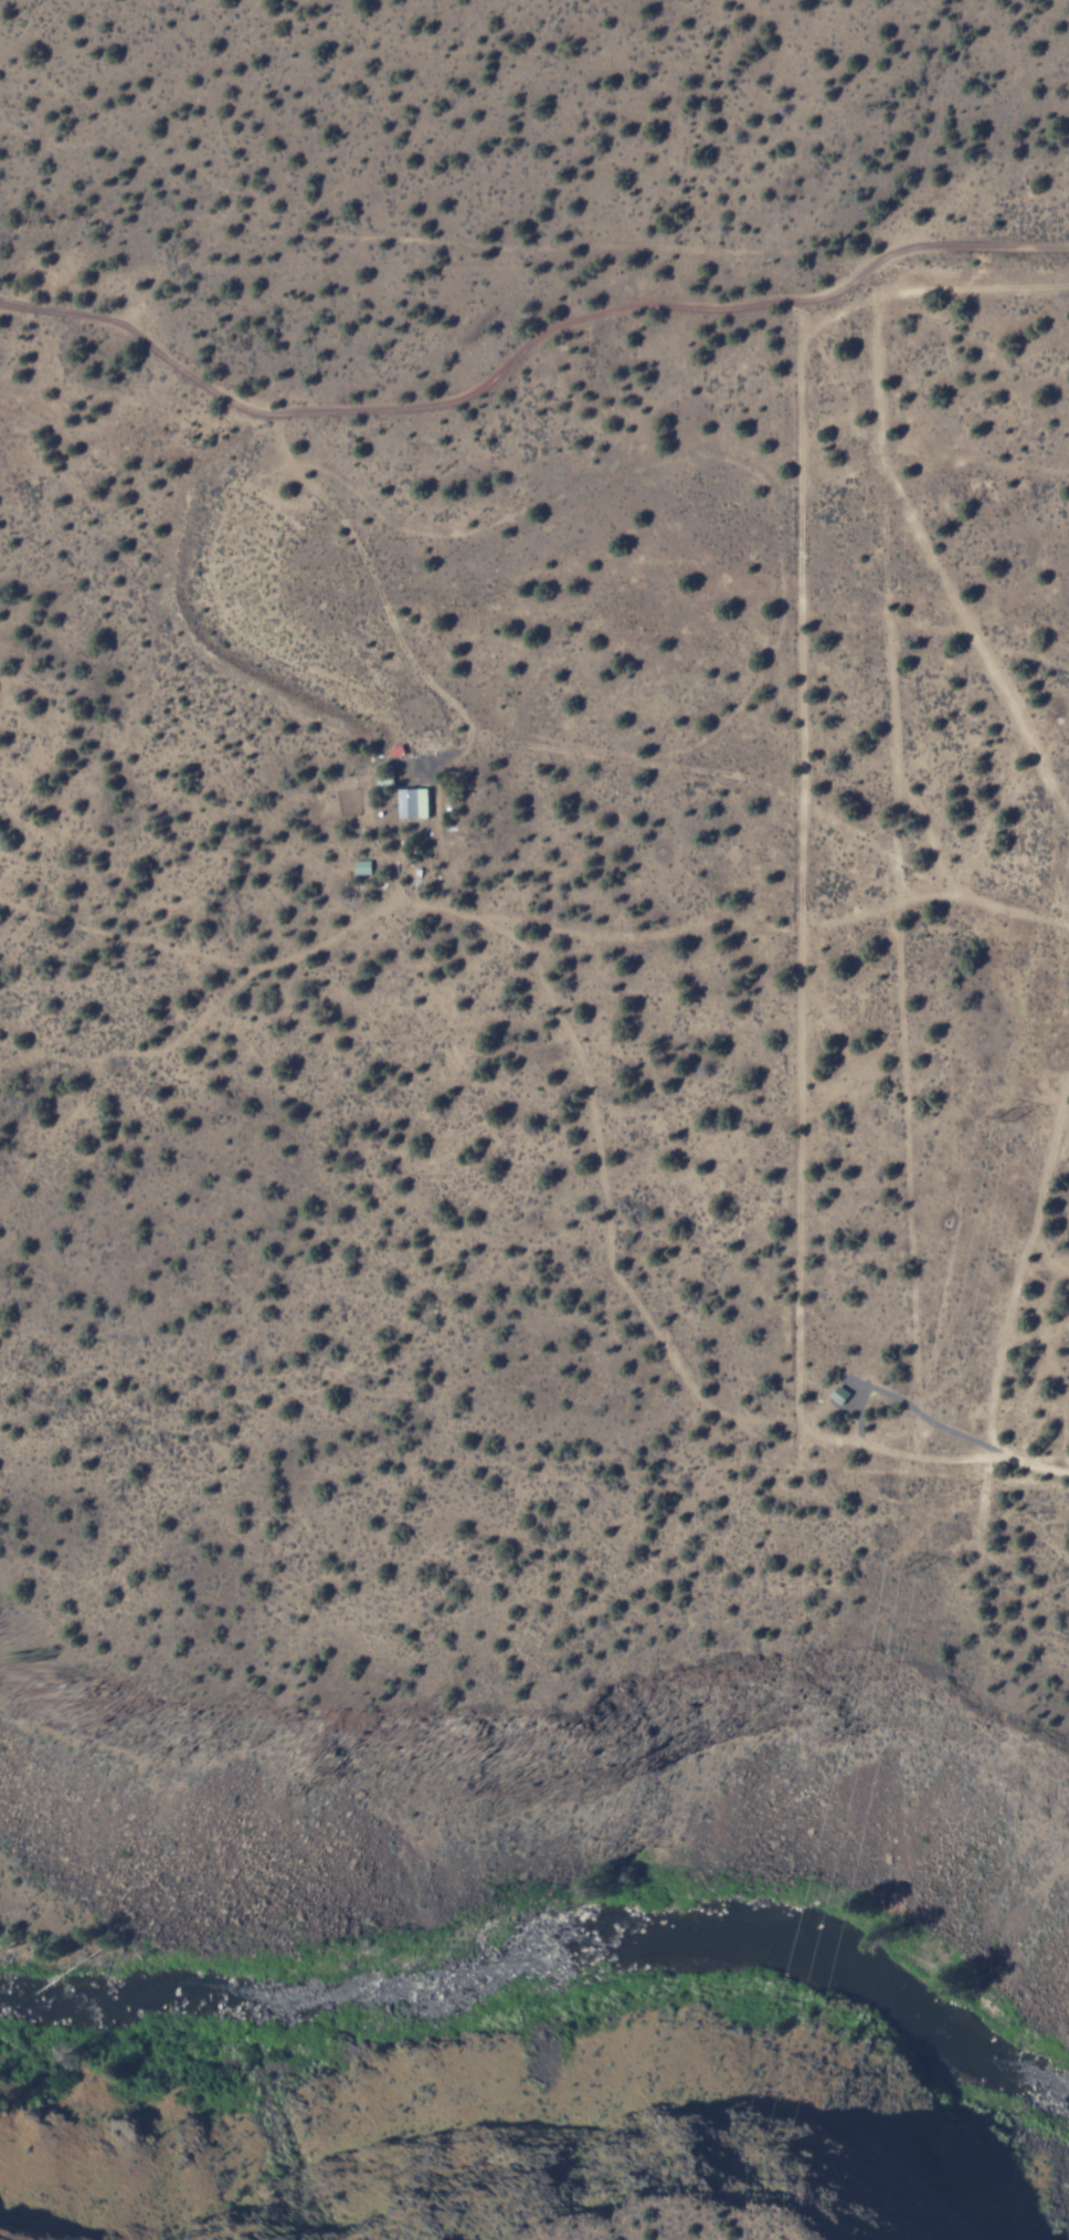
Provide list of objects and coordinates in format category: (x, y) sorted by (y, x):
road: (522, 349)
road: (904, 693)
road: (452, 737)
building: (416, 804)
building: (363, 866)
power tower: (1006, 1119)
power tower: (911, 1568)
river: (554, 1944)

